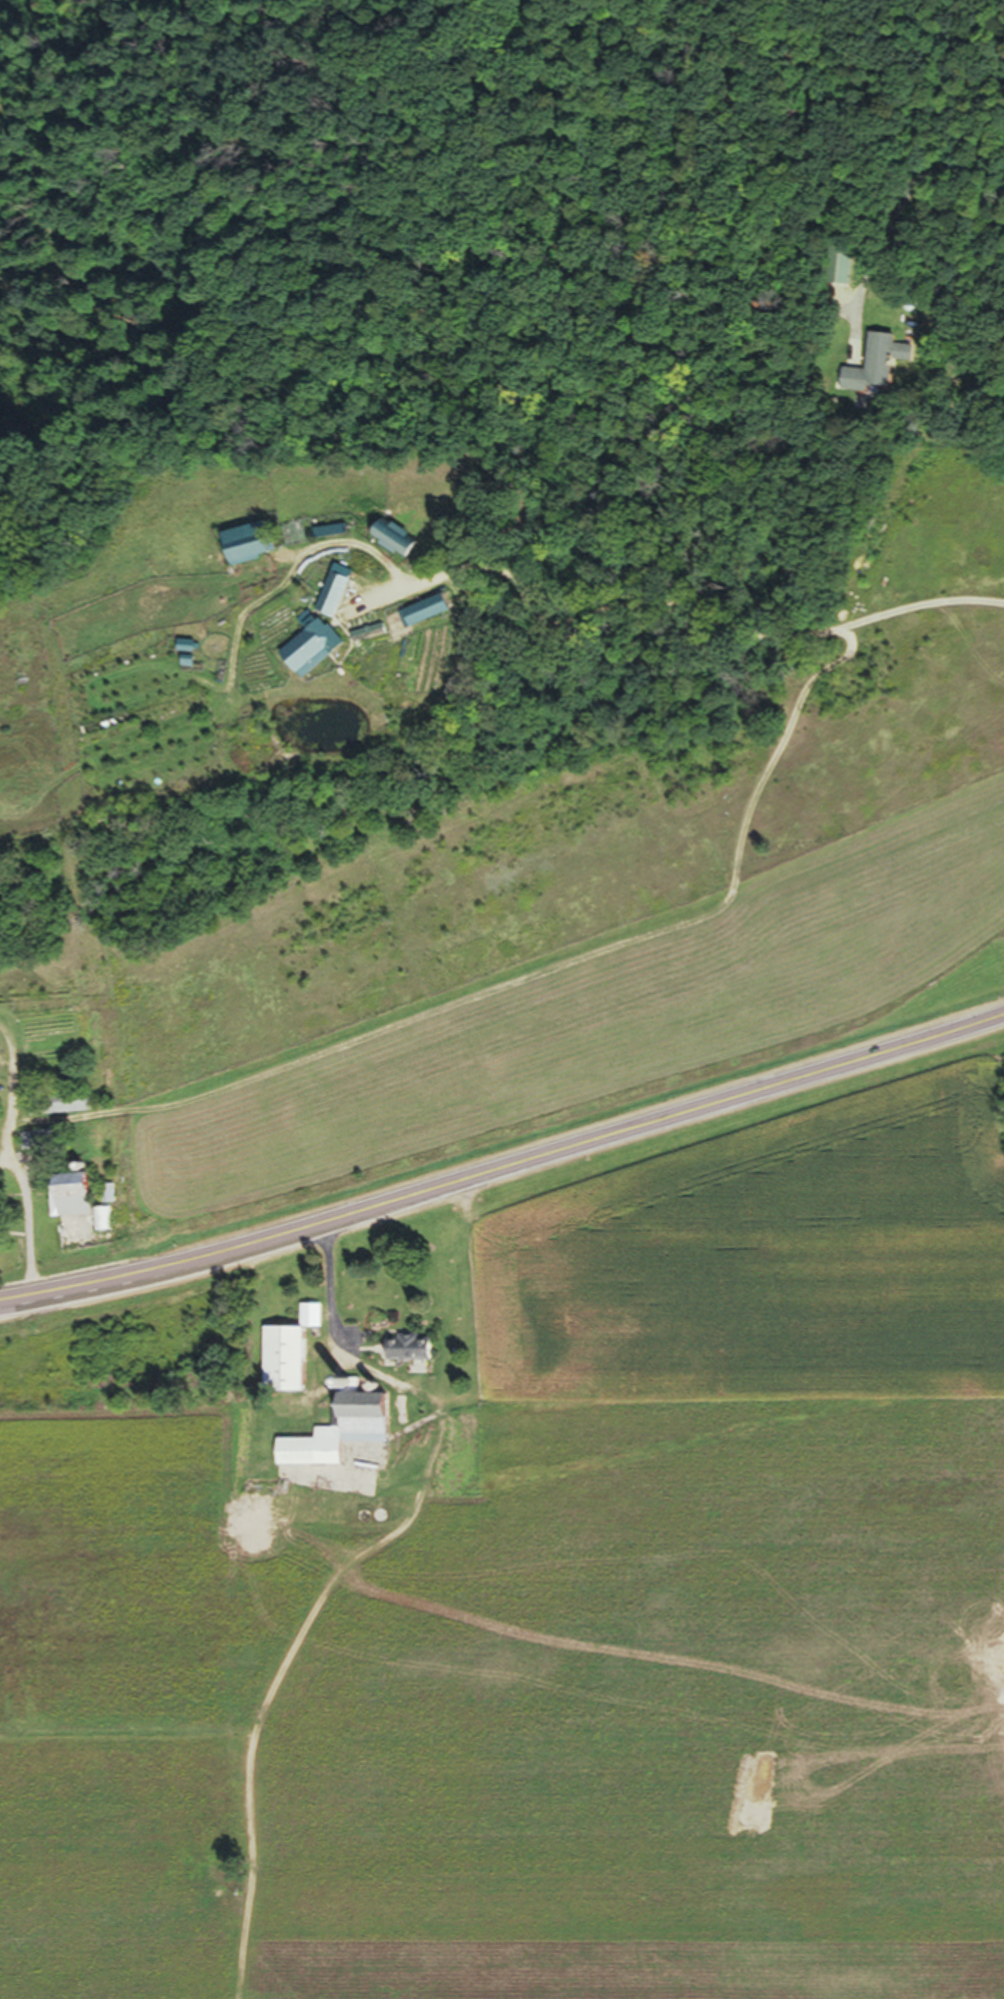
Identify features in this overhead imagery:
building: (877, 365)
building: (247, 549)
building: (393, 549)
building: (333, 600)
road: (676, 606)
building: (423, 616)
building: (311, 653)
building: (57, 1109)
building: (39, 1146)
road: (504, 1167)
road: (7, 1168)
building: (69, 1202)
road: (327, 1329)
building: (409, 1354)
building: (283, 1365)
building: (339, 1437)

